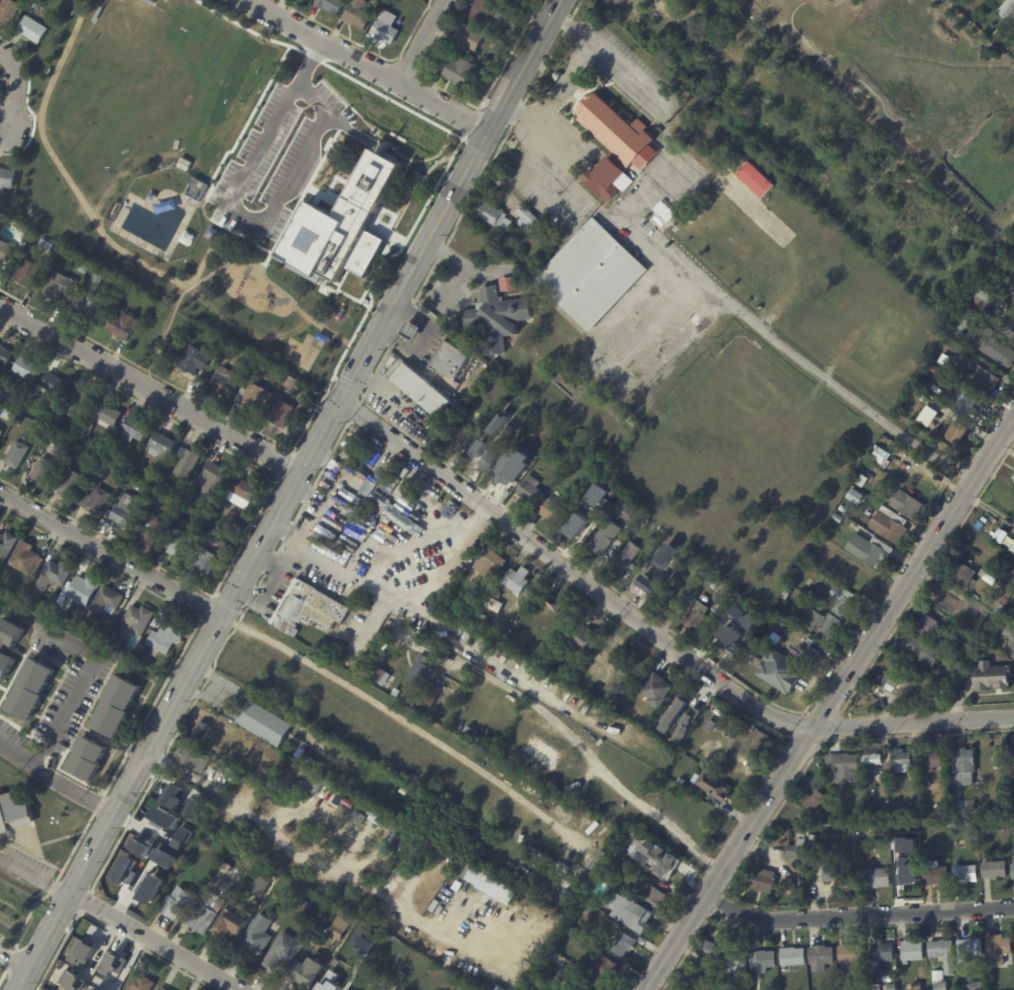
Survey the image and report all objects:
building: (504, 0)
building: (961, 1)
building: (153, 2)
building: (41, 3)
building: (333, 5)
building: (624, 6)
building: (11, 11)
building: (485, 11)
building: (1007, 11)
building: (361, 13)
building: (101, 14)
building: (505, 14)
building: (627, 18)
building: (632, 26)
building: (37, 29)
road: (695, 29)
building: (1013, 30)
building: (647, 31)
building: (387, 32)
building: (997, 33)
building: (474, 38)
building: (745, 39)
building: (1006, 40)
road: (422, 41)
building: (502, 45)
building: (447, 52)
building: (711, 62)
road: (365, 63)
building: (461, 70)
road: (751, 82)
road: (15, 86)
road: (551, 95)
road: (654, 97)
building: (745, 115)
building: (703, 126)
building: (614, 128)
road: (557, 133)
building: (281, 143)
building: (384, 173)
building: (740, 174)
park: (228, 176)
road: (560, 176)
building: (8, 179)
building: (603, 180)
building: (200, 188)
building: (308, 192)
road: (238, 206)
building: (493, 217)
building: (526, 219)
building: (217, 234)
road: (647, 236)
building: (49, 245)
building: (512, 247)
building: (7, 251)
building: (88, 269)
building: (32, 275)
building: (590, 275)
building: (98, 281)
building: (508, 283)
building: (64, 287)
building: (120, 287)
building: (982, 300)
building: (94, 310)
road: (744, 315)
building: (496, 319)
building: (964, 323)
building: (125, 326)
road: (656, 327)
building: (1009, 329)
building: (408, 332)
road: (420, 339)
building: (994, 349)
building: (228, 350)
building: (7, 355)
building: (199, 360)
building: (451, 362)
building: (496, 366)
building: (29, 369)
building: (934, 370)
building: (482, 379)
building: (984, 381)
building: (227, 383)
building: (58, 384)
building: (293, 384)
road: (147, 388)
building: (427, 394)
building: (11, 395)
traffic signals: (336, 397)
building: (258, 398)
building: (966, 399)
building: (82, 405)
building: (9, 413)
building: (285, 415)
building: (109, 417)
building: (928, 417)
building: (50, 418)
building: (137, 430)
building: (480, 430)
building: (493, 430)
building: (2, 434)
building: (954, 434)
building: (457, 438)
building: (526, 438)
building: (111, 439)
building: (164, 445)
building: (538, 446)
building: (79, 449)
building: (64, 453)
building: (20, 455)
building: (554, 455)
building: (478, 458)
building: (880, 458)
building: (190, 464)
building: (866, 466)
building: (47, 470)
building: (137, 471)
building: (559, 472)
building: (505, 474)
building: (1013, 478)
building: (218, 480)
building: (861, 481)
building: (352, 483)
building: (74, 486)
building: (168, 487)
building: (246, 491)
road: (308, 491)
building: (530, 491)
road: (282, 494)
building: (598, 494)
building: (854, 497)
building: (191, 499)
building: (99, 501)
building: (906, 503)
building: (393, 504)
building: (844, 509)
building: (207, 511)
building: (621, 511)
building: (128, 512)
building: (552, 512)
building: (635, 518)
building: (839, 519)
building: (865, 519)
building: (301, 523)
building: (4, 524)
building: (889, 526)
road: (285, 528)
road: (310, 530)
building: (572, 530)
building: (157, 531)
building: (221, 533)
building: (994, 535)
building: (601, 541)
building: (184, 546)
building: (9, 547)
building: (1012, 547)
road: (109, 551)
building: (869, 551)
building: (676, 554)
road: (269, 556)
building: (626, 558)
building: (30, 560)
building: (210, 561)
building: (195, 563)
building: (488, 565)
building: (674, 565)
building: (58, 575)
building: (962, 575)
building: (989, 580)
building: (516, 581)
building: (649, 583)
building: (713, 584)
building: (999, 587)
building: (24, 590)
building: (88, 590)
building: (494, 594)
building: (785, 594)
building: (1009, 595)
building: (109, 600)
road: (409, 601)
building: (1004, 601)
building: (948, 602)
building: (552, 604)
building: (844, 604)
building: (450, 608)
building: (1012, 608)
building: (999, 609)
building: (309, 610)
building: (741, 611)
building: (1012, 612)
building: (59, 614)
building: (698, 619)
building: (140, 620)
building: (811, 624)
road: (49, 626)
building: (926, 626)
road: (652, 629)
building: (829, 630)
building: (985, 631)
building: (104, 634)
building: (581, 638)
building: (115, 639)
building: (990, 640)
building: (168, 641)
building: (725, 642)
building: (808, 642)
building: (1010, 645)
building: (9, 649)
building: (921, 652)
building: (812, 657)
building: (606, 662)
building: (778, 672)
building: (377, 677)
building: (991, 678)
building: (416, 680)
building: (893, 683)
building: (933, 685)
building: (953, 685)
building: (33, 689)
building: (656, 689)
building: (593, 690)
building: (396, 693)
building: (430, 695)
building: (943, 695)
road: (828, 702)
building: (118, 706)
building: (685, 708)
road: (67, 710)
building: (674, 713)
building: (721, 714)
road: (398, 716)
building: (265, 723)
building: (710, 726)
building: (202, 731)
building: (677, 740)
building: (756, 745)
building: (686, 748)
road: (17, 754)
road: (592, 756)
building: (192, 758)
building: (872, 759)
building: (934, 759)
building: (1011, 759)
building: (89, 760)
building: (900, 760)
building: (310, 761)
building: (962, 765)
building: (843, 767)
building: (167, 781)
building: (311, 784)
building: (713, 786)
road: (72, 787)
building: (1012, 793)
building: (704, 798)
building: (813, 800)
building: (963, 807)
building: (1005, 808)
building: (910, 812)
building: (16, 814)
building: (355, 819)
building: (952, 821)
building: (396, 825)
building: (986, 830)
building: (513, 831)
building: (634, 833)
building: (518, 834)
building: (885, 838)
building: (625, 841)
building: (796, 850)
building: (539, 853)
building: (616, 854)
road: (315, 857)
building: (655, 858)
building: (387, 860)
building: (199, 861)
building: (597, 861)
building: (831, 863)
building: (230, 868)
building: (463, 869)
building: (994, 869)
building: (1012, 870)
building: (271, 873)
building: (369, 873)
building: (934, 874)
building: (965, 874)
building: (908, 876)
road: (34, 877)
building: (878, 877)
building: (393, 879)
building: (764, 879)
building: (491, 885)
building: (260, 886)
building: (653, 896)
building: (216, 898)
building: (175, 903)
road: (856, 913)
building: (632, 915)
building: (199, 918)
building: (231, 925)
building: (578, 925)
building: (339, 926)
building: (257, 937)
road: (152, 940)
building: (623, 943)
building: (969, 947)
building: (998, 949)
building: (710, 950)
building: (283, 951)
building: (911, 951)
building: (851, 952)
building: (882, 952)
building: (354, 953)
building: (942, 954)
building: (792, 956)
building: (820, 957)
road: (12, 958)
building: (555, 960)
building: (762, 960)
building: (736, 961)
building: (596, 964)
building: (305, 973)
building: (547, 973)
building: (858, 973)
building: (882, 974)
building: (940, 981)
building: (141, 984)
building: (328, 985)
building: (589, 985)
building: (916, 986)
building: (975, 986)
building: (534, 987)
building: (876, 987)
building: (854, 988)
building: (163, 989)

